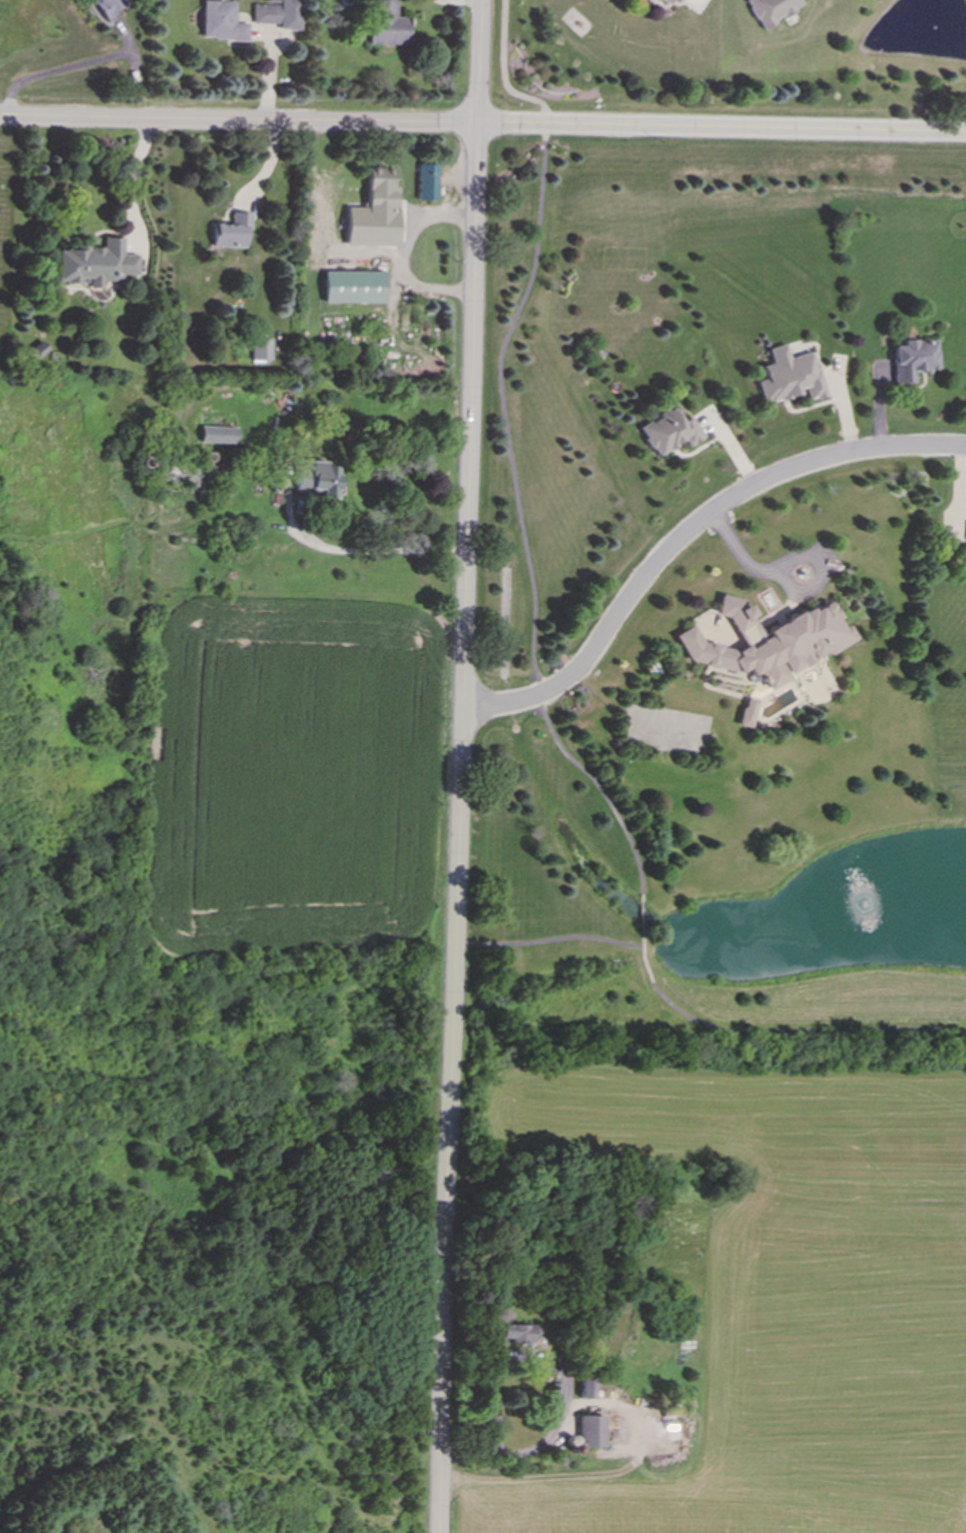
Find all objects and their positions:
building: (662, 1)
building: (677, 1)
building: (107, 6)
building: (769, 10)
building: (276, 14)
building: (219, 22)
building: (386, 25)
road: (70, 65)
road: (252, 120)
road: (735, 128)
road: (735, 128)
road: (130, 175)
building: (425, 182)
building: (373, 212)
building: (230, 232)
building: (95, 264)
building: (352, 287)
building: (260, 350)
building: (911, 359)
building: (787, 376)
building: (669, 432)
building: (217, 435)
road: (507, 450)
building: (316, 480)
road: (689, 534)
road: (380, 549)
road: (748, 564)
park: (559, 595)
building: (766, 642)
building: (744, 713)
road: (462, 766)
crop: (297, 778)
road: (642, 915)
road: (549, 939)
road: (776, 1029)
crop: (769, 1283)
building: (517, 1333)
building: (585, 1388)
building: (588, 1432)
road: (541, 1442)

